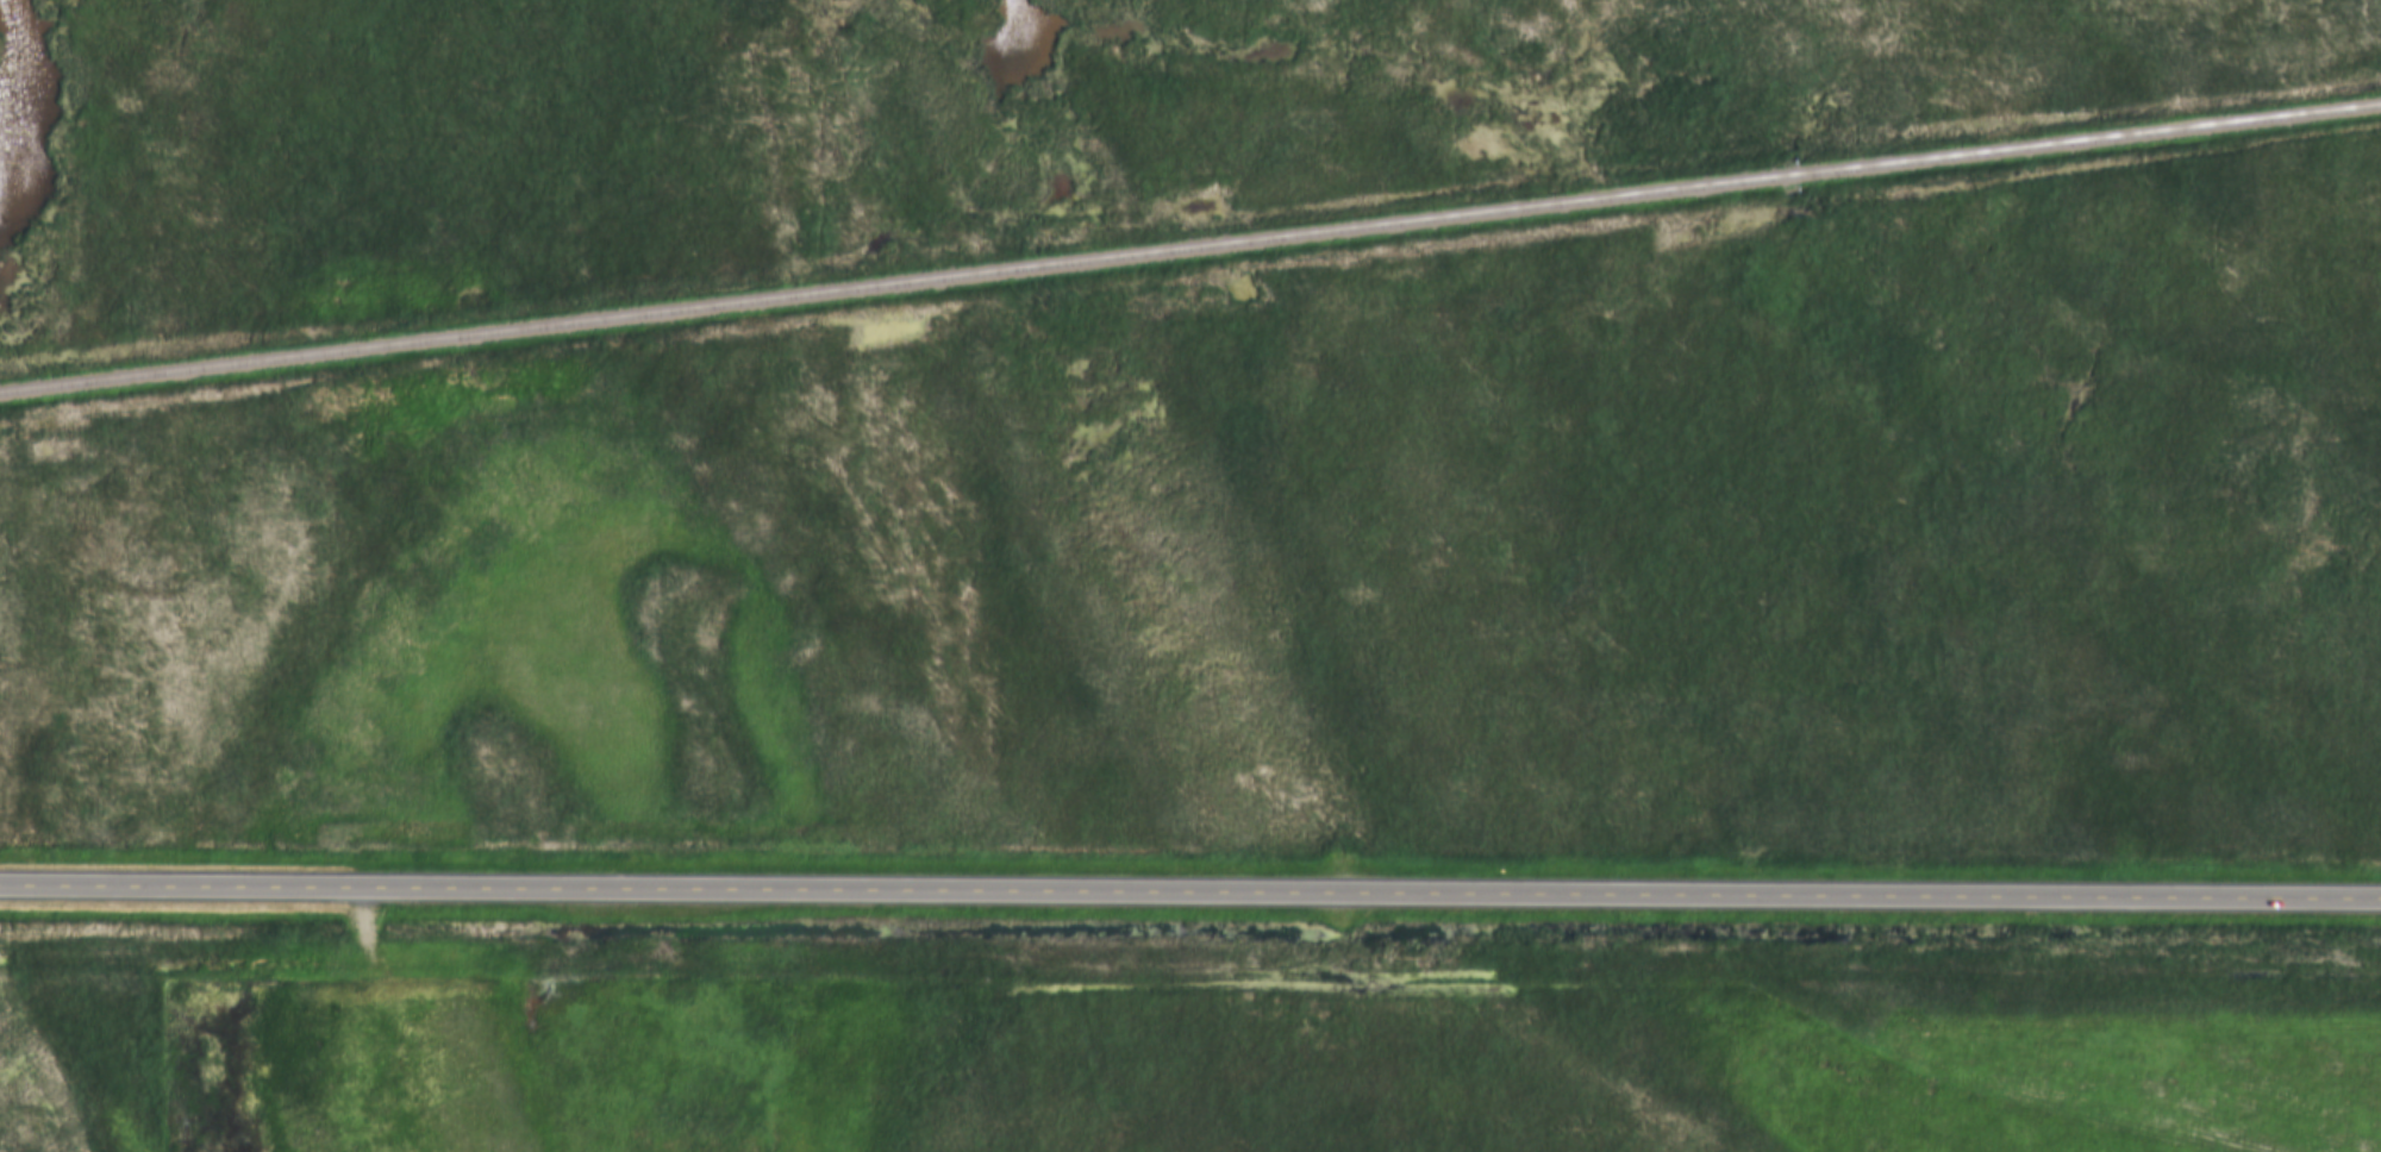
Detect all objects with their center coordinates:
railway: (1189, 246)
road: (1190, 891)

